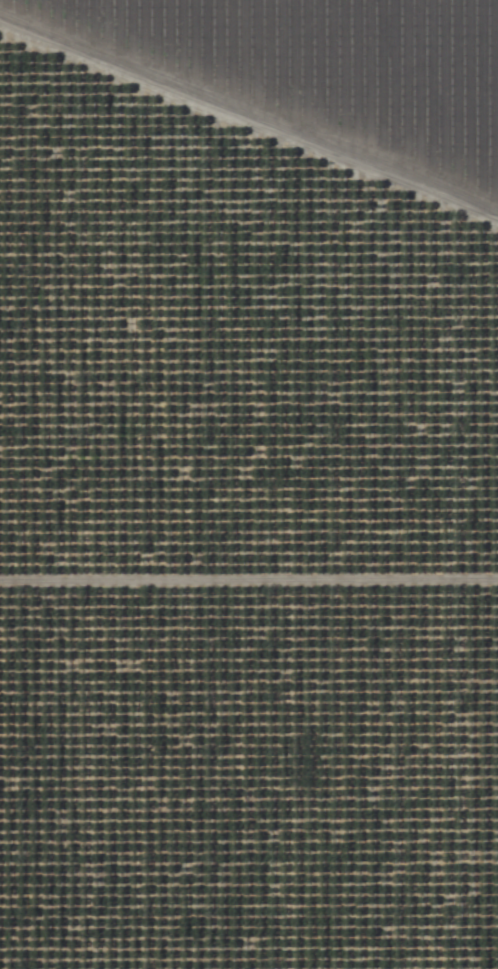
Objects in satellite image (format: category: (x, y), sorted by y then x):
crop: (249, 484)

